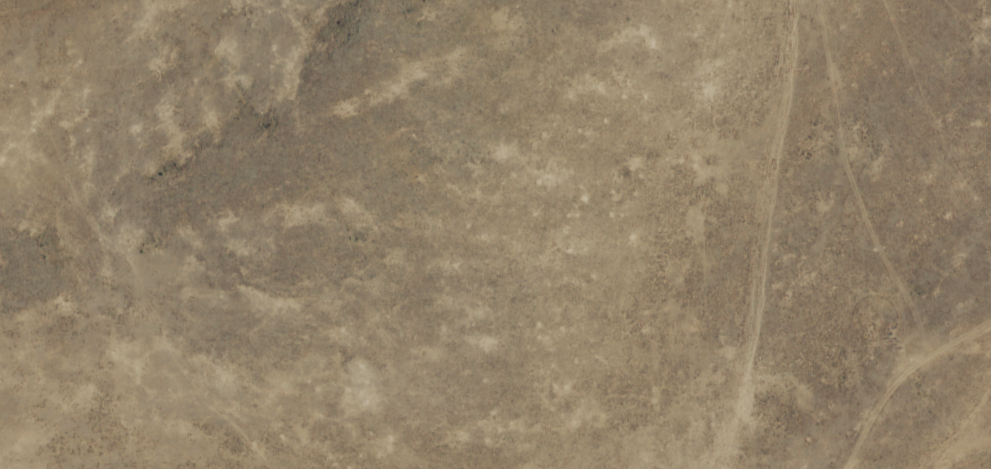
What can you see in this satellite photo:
road: (905, 402)

